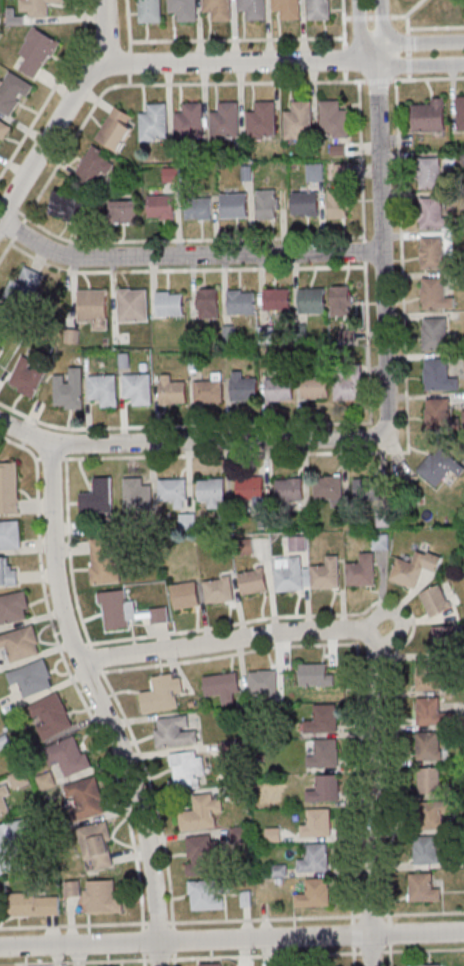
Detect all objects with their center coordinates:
building: (37, 7)
building: (288, 8)
road: (415, 8)
building: (184, 9)
building: (218, 9)
building: (253, 9)
building: (319, 9)
building: (150, 10)
park: (428, 12)
road: (406, 17)
road: (435, 27)
road: (382, 29)
road: (359, 32)
road: (419, 41)
building: (37, 52)
road: (237, 59)
road: (420, 66)
building: (13, 93)
road: (64, 111)
building: (460, 114)
building: (428, 116)
building: (189, 119)
building: (334, 120)
building: (225, 121)
building: (262, 121)
building: (299, 121)
building: (154, 123)
building: (116, 128)
building: (3, 131)
building: (93, 168)
building: (315, 172)
building: (430, 173)
building: (305, 204)
building: (338, 204)
building: (68, 206)
building: (234, 206)
building: (161, 207)
building: (198, 208)
building: (268, 209)
building: (124, 213)
building: (433, 214)
road: (381, 249)
building: (432, 252)
road: (186, 254)
building: (23, 290)
building: (435, 294)
building: (277, 300)
building: (312, 301)
building: (341, 301)
building: (208, 302)
building: (241, 302)
building: (170, 303)
building: (133, 304)
building: (93, 307)
building: (436, 333)
building: (1, 351)
building: (439, 375)
building: (28, 376)
building: (349, 386)
building: (314, 387)
building: (138, 388)
building: (279, 388)
building: (68, 389)
building: (104, 389)
building: (209, 390)
building: (244, 390)
building: (171, 391)
building: (438, 409)
road: (190, 442)
building: (440, 467)
building: (371, 487)
building: (9, 488)
building: (328, 488)
building: (251, 489)
building: (173, 490)
building: (289, 490)
building: (211, 492)
building: (137, 495)
building: (98, 498)
building: (10, 534)
building: (103, 561)
building: (414, 569)
building: (362, 570)
building: (289, 573)
building: (327, 573)
building: (8, 574)
building: (253, 581)
building: (218, 591)
building: (185, 595)
building: (436, 601)
building: (13, 608)
building: (117, 610)
building: (160, 615)
road: (398, 617)
building: (444, 638)
building: (21, 644)
road: (374, 653)
building: (314, 675)
building: (428, 677)
building: (32, 678)
building: (263, 683)
building: (222, 687)
building: (162, 695)
road: (102, 705)
building: (433, 712)
building: (52, 716)
building: (323, 719)
building: (175, 733)
building: (428, 746)
building: (325, 754)
building: (69, 756)
building: (187, 767)
building: (430, 781)
building: (46, 782)
building: (325, 788)
building: (86, 797)
building: (4, 802)
building: (203, 813)
building: (435, 820)
building: (317, 823)
building: (273, 834)
building: (11, 845)
building: (97, 847)
building: (426, 851)
building: (204, 856)
building: (314, 858)
building: (278, 870)
building: (423, 888)
building: (314, 893)
building: (207, 894)
building: (96, 896)
building: (35, 904)
road: (232, 920)
road: (231, 937)
road: (423, 950)
road: (371, 951)
road: (391, 954)
road: (265, 955)
road: (354, 955)
building: (213, 964)
building: (426, 964)

